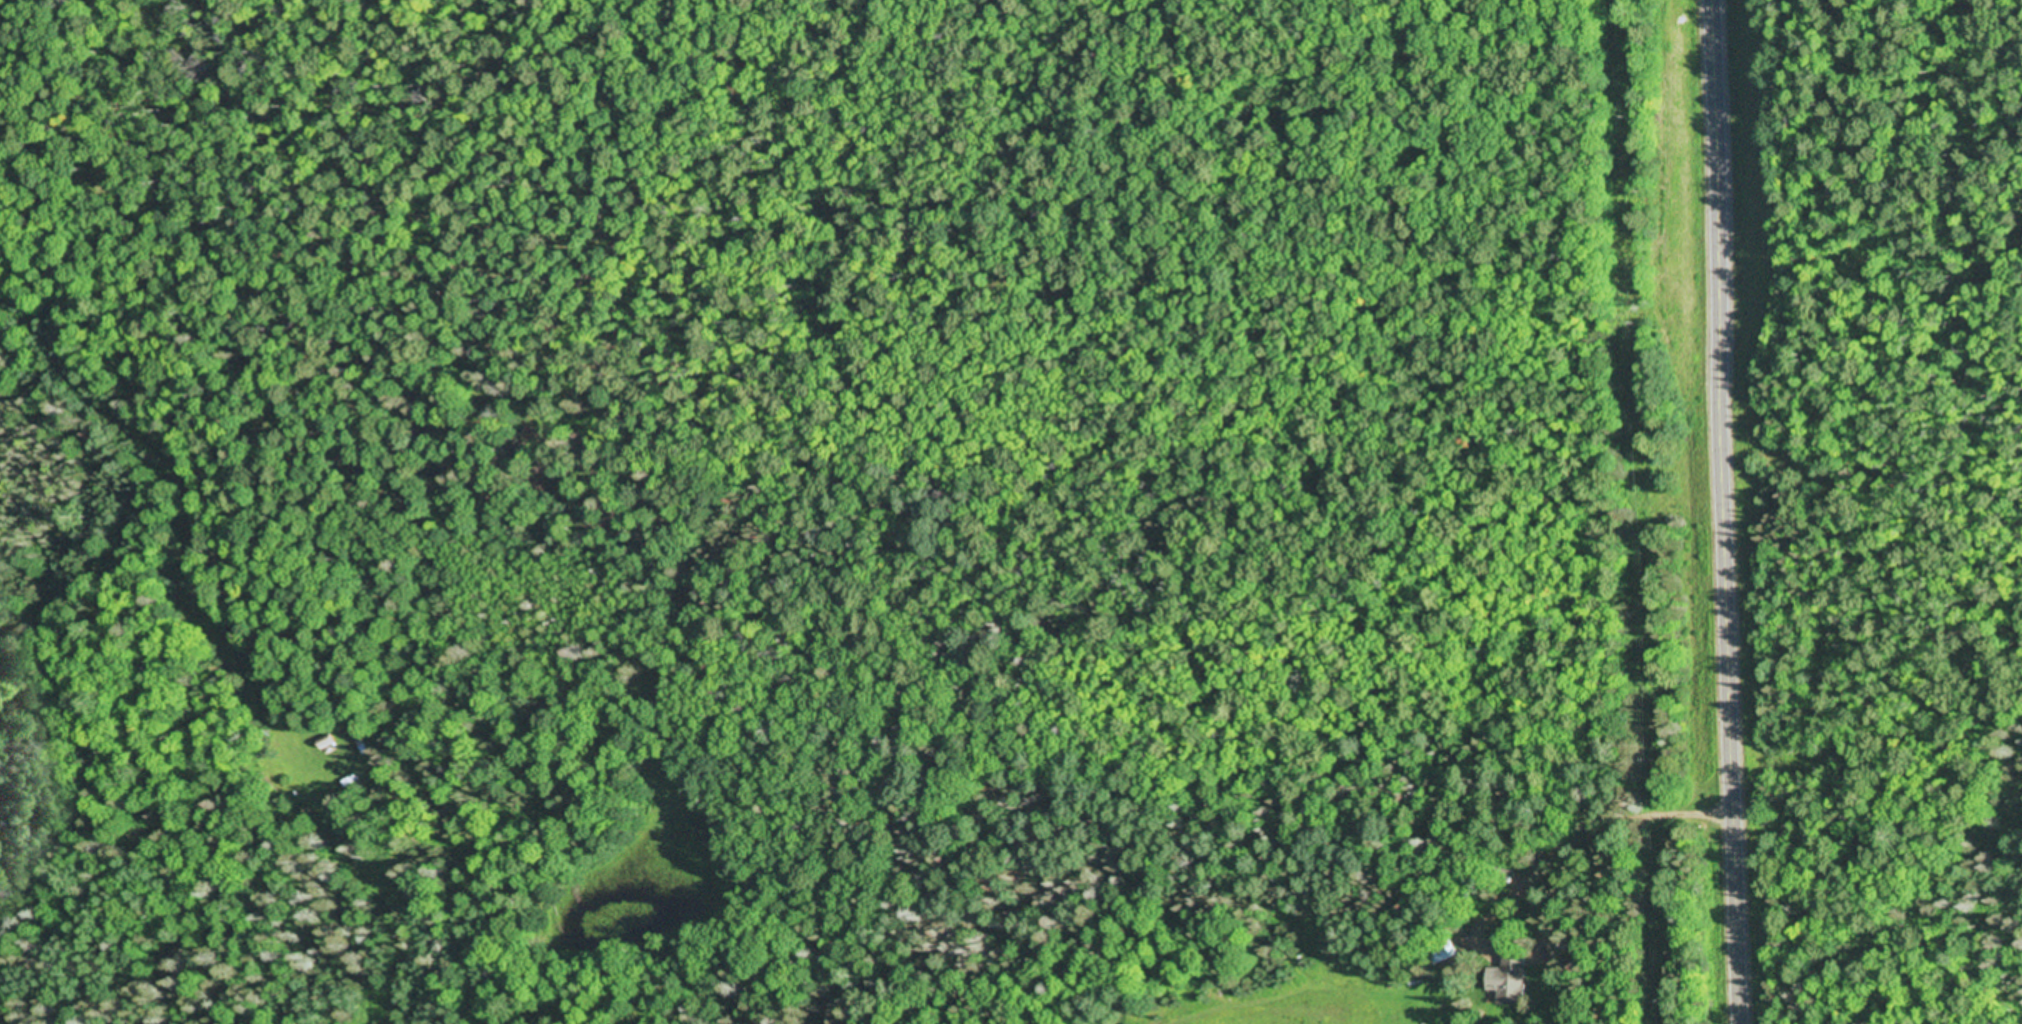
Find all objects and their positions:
road: (1733, 511)
building: (1512, 978)

